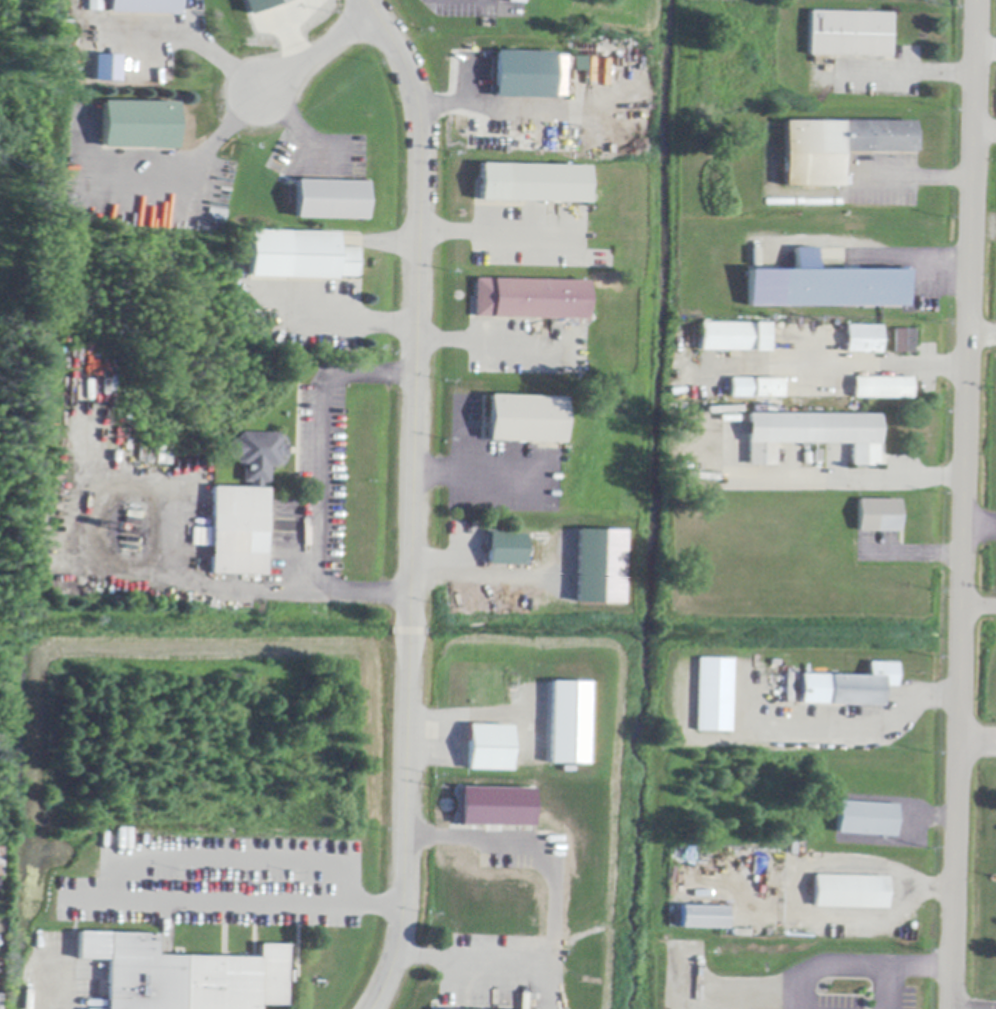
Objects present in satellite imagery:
building: (95, 5)
building: (261, 5)
building: (145, 6)
road: (189, 35)
building: (849, 35)
road: (985, 50)
road: (315, 52)
building: (578, 62)
building: (105, 67)
road: (907, 67)
building: (524, 75)
road: (479, 105)
building: (139, 125)
road: (297, 128)
road: (984, 134)
road: (207, 143)
building: (838, 147)
road: (911, 180)
building: (534, 184)
building: (330, 200)
road: (497, 233)
road: (911, 253)
building: (300, 257)
building: (838, 286)
building: (533, 300)
road: (347, 323)
road: (982, 333)
building: (734, 337)
road: (474, 340)
building: (862, 340)
building: (903, 342)
road: (868, 364)
building: (881, 388)
building: (758, 391)
building: (525, 420)
building: (812, 435)
road: (460, 436)
road: (479, 473)
road: (850, 481)
road: (309, 488)
road: (414, 501)
road: (963, 504)
building: (244, 508)
building: (878, 516)
road: (979, 521)
building: (200, 536)
building: (504, 549)
road: (917, 553)
building: (598, 565)
road: (473, 575)
road: (978, 606)
building: (863, 686)
building: (715, 696)
road: (466, 717)
building: (569, 723)
road: (864, 728)
road: (976, 739)
building: (489, 748)
building: (494, 806)
road: (928, 814)
building: (866, 820)
road: (250, 858)
building: (0, 862)
road: (927, 888)
building: (850, 892)
road: (261, 900)
road: (554, 906)
building: (702, 918)
road: (857, 966)
building: (185, 976)
road: (886, 987)

